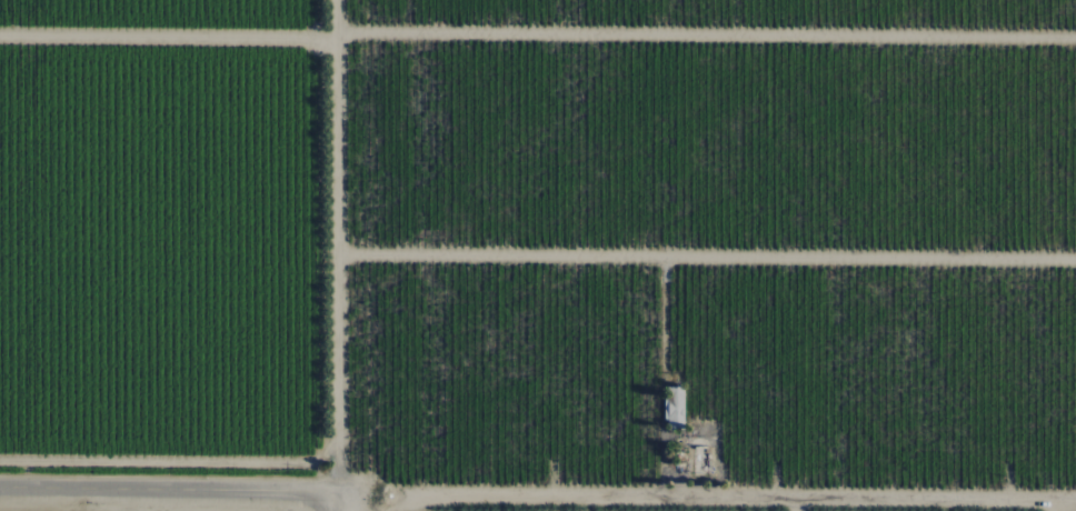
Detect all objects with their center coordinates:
road: (170, 489)
road: (698, 498)
road: (340, 501)
road: (1066, 501)
road: (790, 505)

